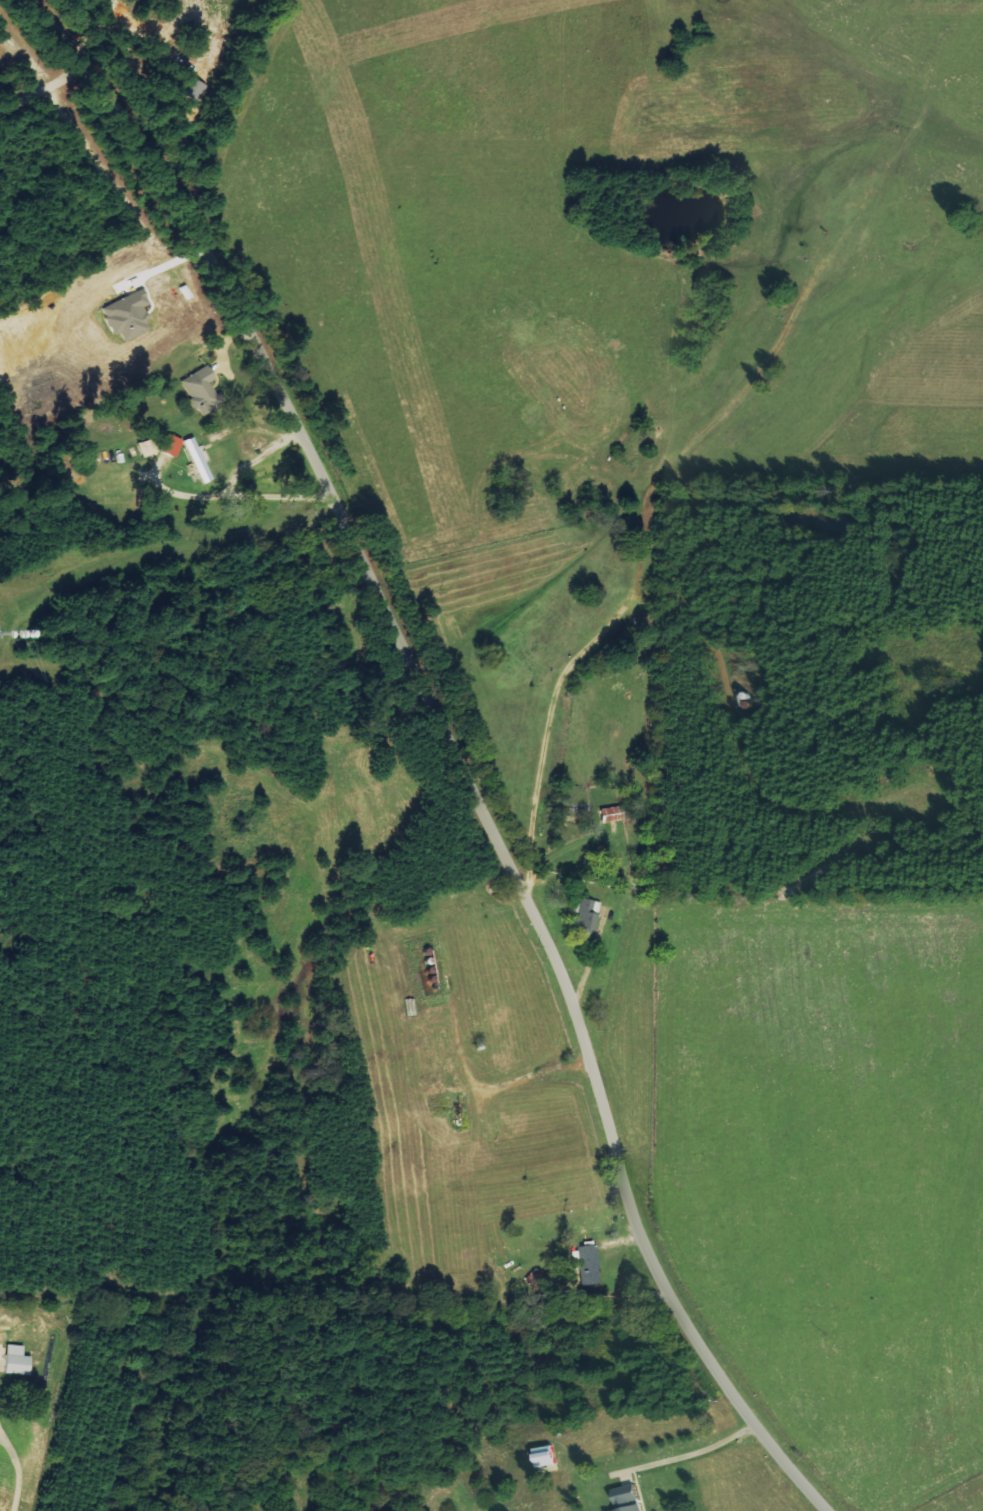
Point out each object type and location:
building: (201, 390)
building: (198, 460)
road: (448, 747)
building: (614, 813)
building: (585, 920)
building: (588, 1265)
building: (16, 1360)
building: (550, 1456)
building: (630, 1499)

